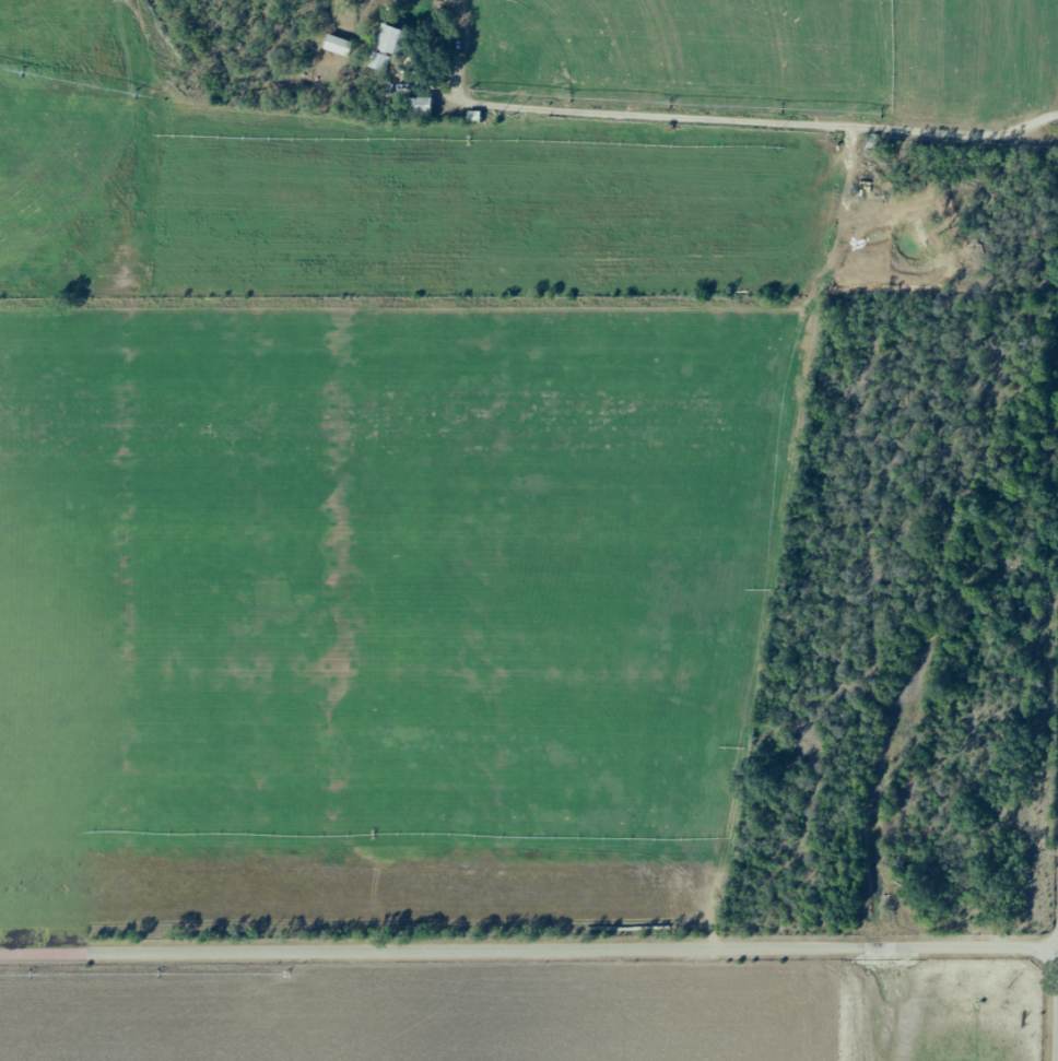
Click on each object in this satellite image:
building: (388, 48)
building: (419, 106)
road: (709, 118)
road: (529, 947)

